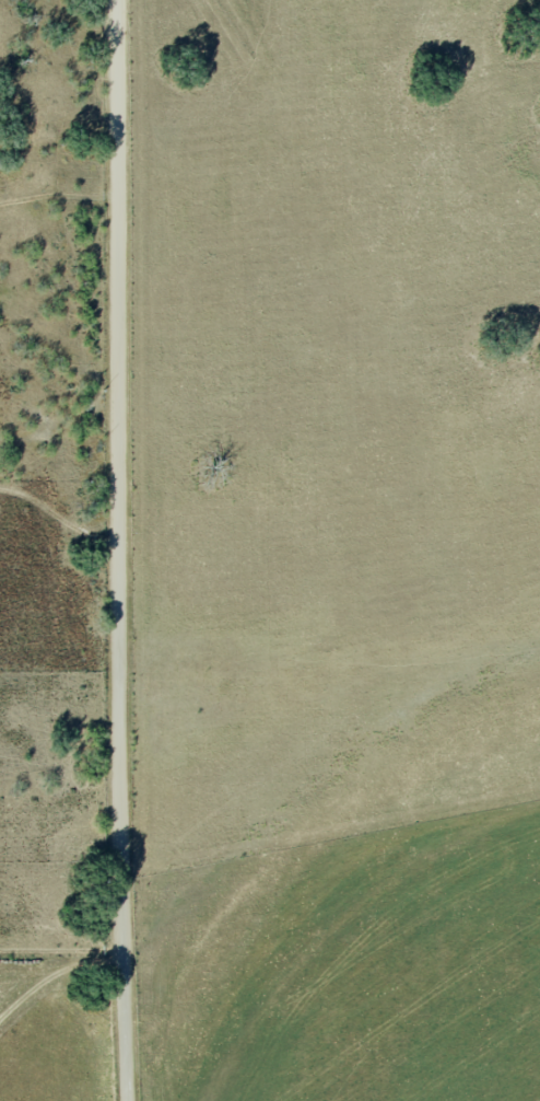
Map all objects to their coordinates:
road: (55, 128)
road: (117, 550)
road: (55, 974)

